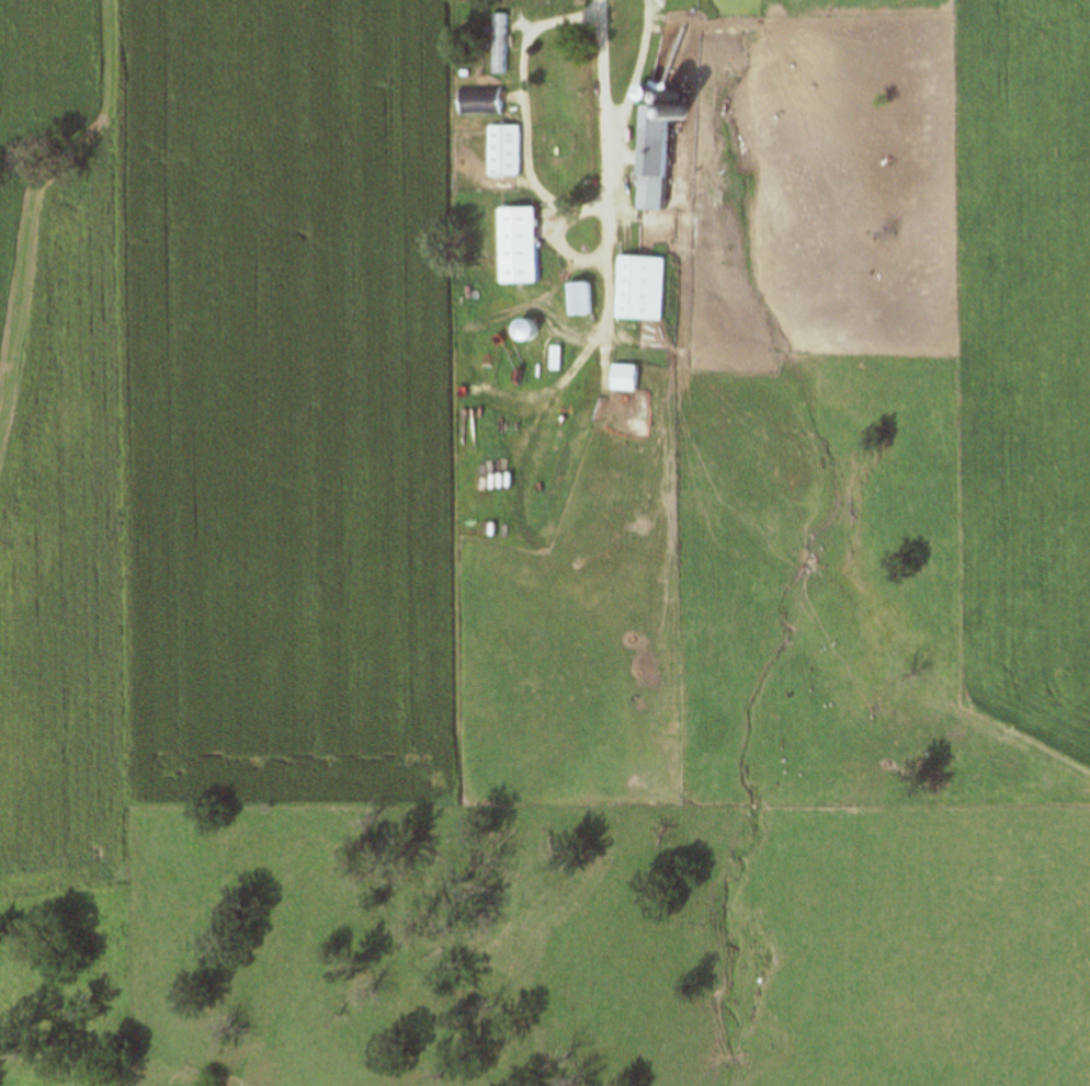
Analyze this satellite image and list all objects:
building: (502, 44)
building: (489, 101)
building: (512, 150)
building: (665, 157)
building: (526, 244)
building: (649, 287)
building: (588, 298)
building: (633, 377)

